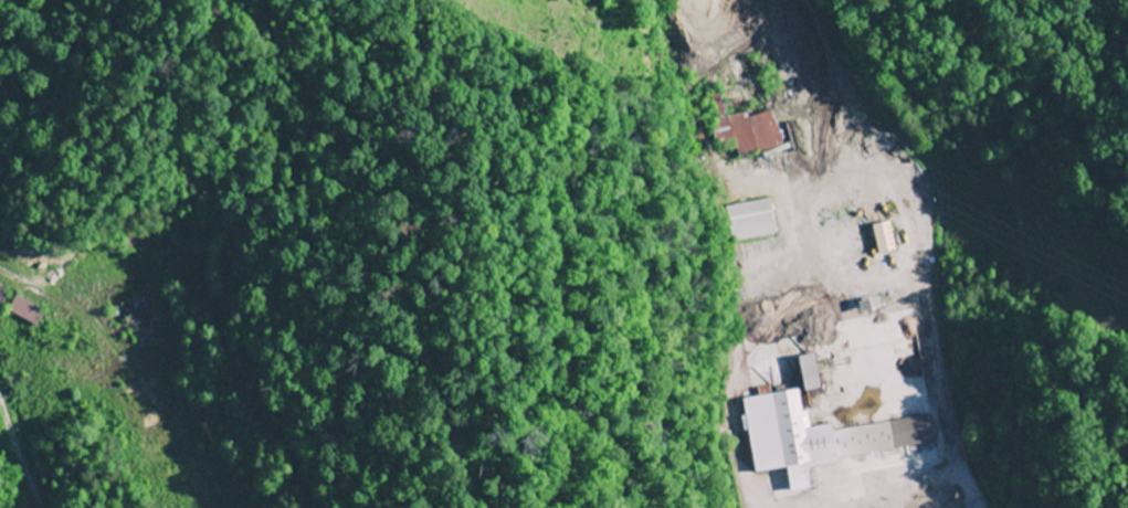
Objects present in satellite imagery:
building: (749, 220)
building: (882, 237)
building: (1, 296)
building: (22, 311)
building: (807, 372)
building: (816, 434)

